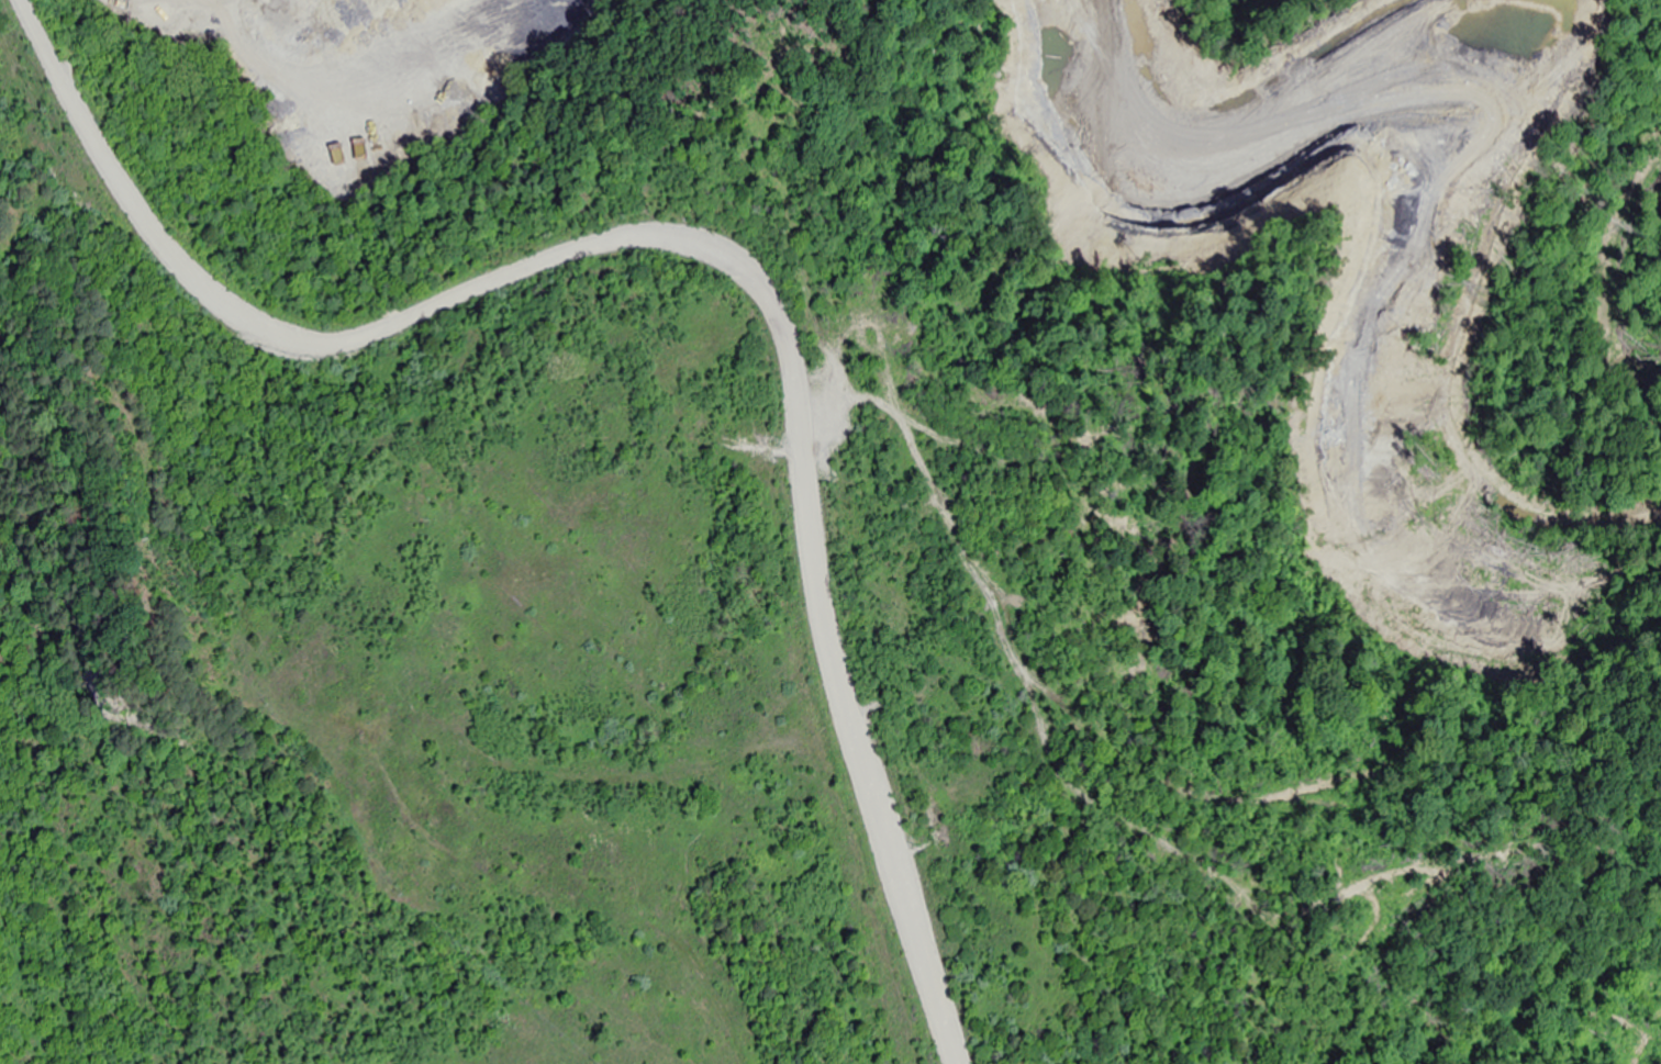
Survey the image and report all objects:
quarry: (502, 27)

